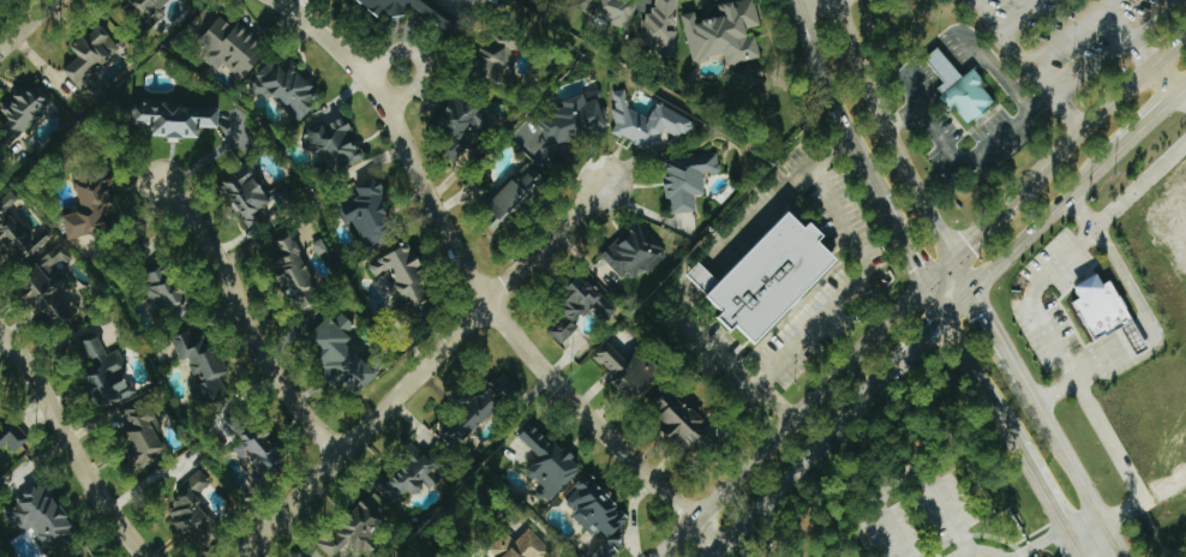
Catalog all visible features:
road: (795, 2)
road: (803, 2)
road: (972, 2)
building: (149, 11)
building: (611, 11)
building: (438, 13)
road: (1020, 18)
road: (30, 28)
building: (661, 28)
building: (725, 34)
road: (996, 34)
road: (970, 42)
building: (235, 48)
road: (1112, 50)
road: (1137, 50)
road: (1043, 55)
building: (92, 56)
building: (499, 58)
road: (418, 60)
building: (290, 88)
building: (963, 89)
road: (1181, 91)
road: (1181, 101)
road: (832, 106)
road: (1103, 108)
building: (29, 109)
road: (902, 115)
road: (1066, 115)
building: (178, 120)
road: (1149, 120)
building: (574, 124)
building: (648, 124)
building: (467, 125)
road: (891, 130)
building: (339, 144)
road: (969, 161)
building: (689, 179)
road: (1140, 186)
building: (519, 192)
building: (253, 194)
road: (779, 203)
building: (91, 209)
road: (1079, 211)
building: (373, 215)
road: (1046, 215)
road: (989, 220)
building: (16, 230)
road: (898, 245)
building: (322, 247)
building: (635, 253)
traffic signals: (954, 256)
road: (963, 272)
building: (298, 276)
building: (407, 278)
building: (777, 278)
road: (702, 280)
road: (1128, 283)
building: (56, 286)
road: (474, 287)
traffic signals: (920, 287)
traffic signals: (972, 289)
building: (168, 294)
road: (1034, 295)
road: (684, 298)
road: (833, 303)
road: (929, 304)
road: (956, 305)
building: (581, 310)
building: (1109, 312)
traffic signals: (939, 321)
road: (245, 325)
road: (922, 337)
road: (999, 339)
road: (1136, 341)
road: (718, 347)
building: (345, 355)
road: (1130, 359)
road: (1100, 363)
building: (205, 366)
road: (420, 369)
building: (630, 371)
building: (108, 373)
road: (976, 384)
road: (822, 387)
road: (1055, 390)
building: (685, 423)
building: (146, 437)
building: (12, 439)
building: (256, 445)
road: (68, 447)
road: (813, 451)
road: (1067, 457)
road: (1120, 459)
road: (922, 474)
building: (417, 478)
road: (1042, 497)
building: (193, 510)
building: (600, 514)
building: (43, 516)
building: (360, 529)
road: (1089, 537)
road: (675, 538)
road: (1047, 540)
road: (1116, 541)
building: (531, 546)
road: (714, 551)
road: (1023, 552)
road: (1073, 552)
road: (965, 553)

